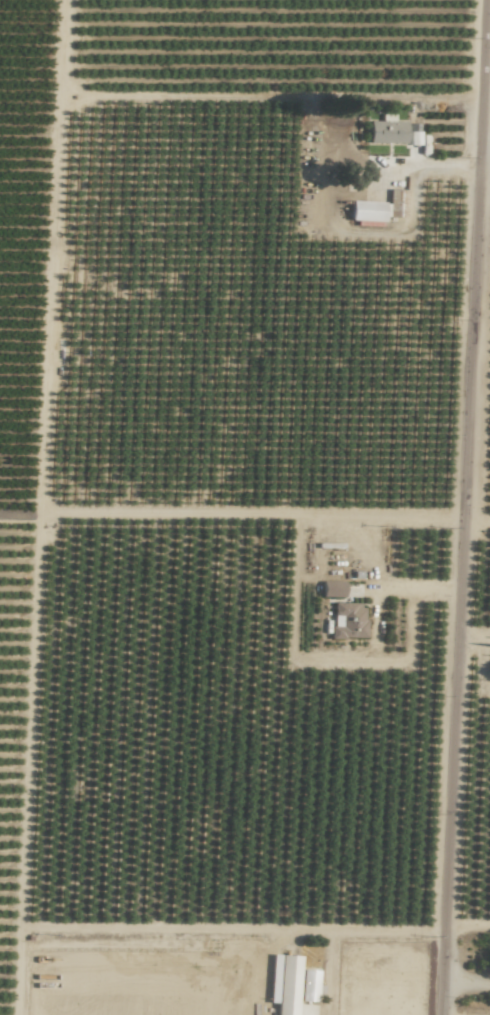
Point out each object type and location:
building: (389, 132)
road: (433, 164)
building: (369, 212)
road: (470, 507)
building: (334, 589)
building: (349, 620)
road: (477, 641)
road: (373, 931)
building: (298, 987)

